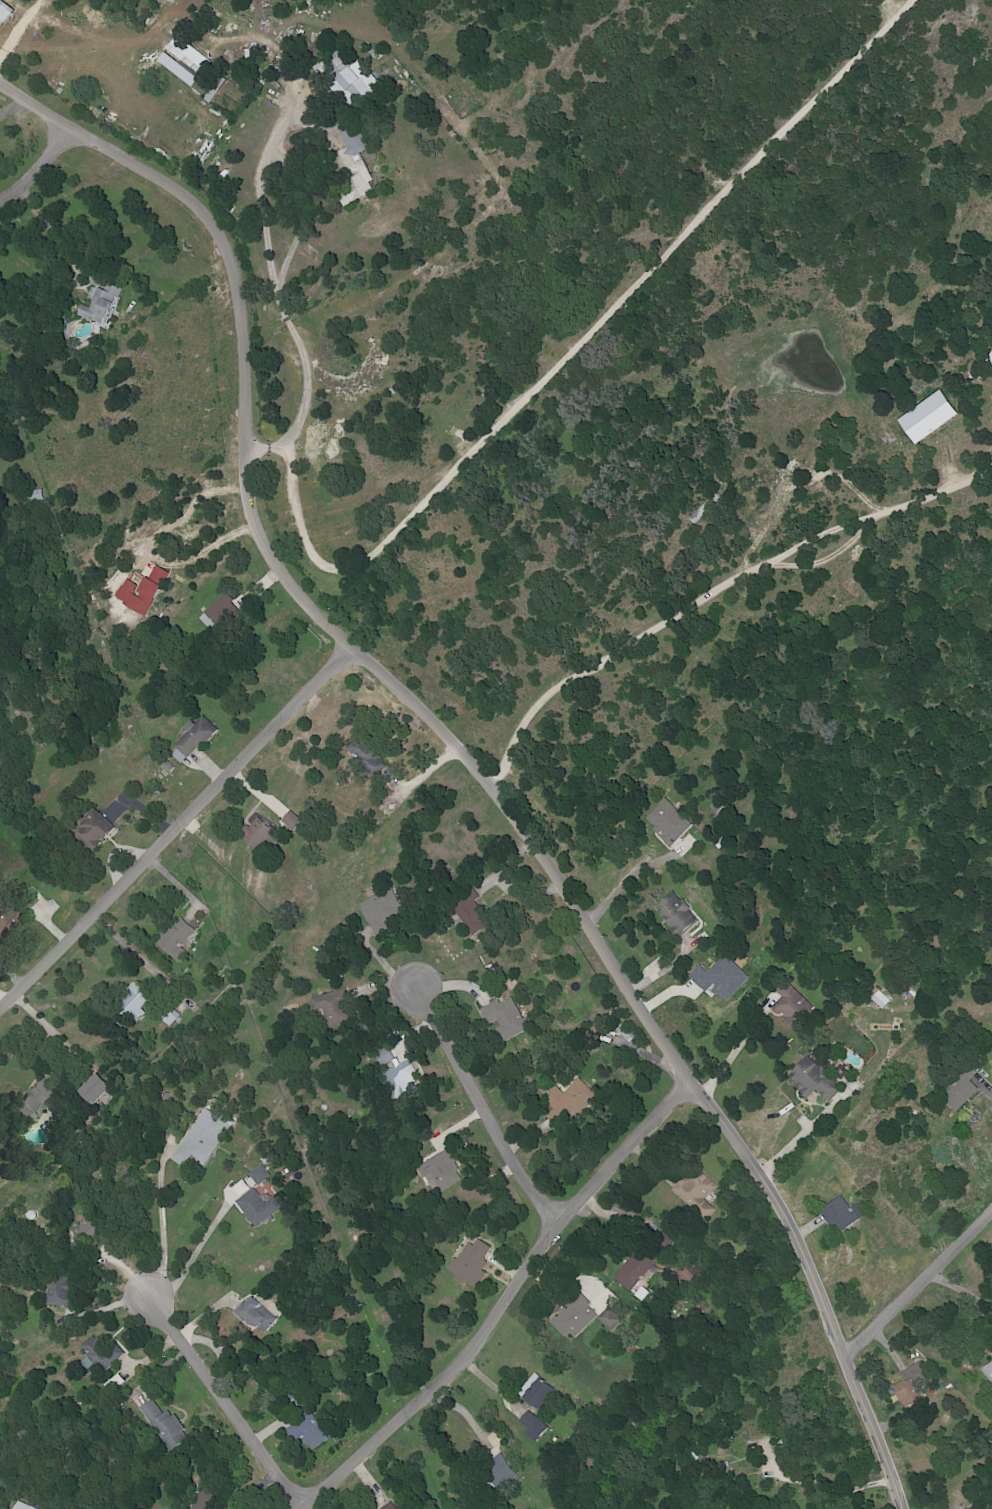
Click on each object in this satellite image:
building: (4, 12)
building: (188, 52)
building: (176, 69)
building: (353, 82)
building: (351, 167)
road: (39, 174)
road: (56, 238)
road: (291, 250)
building: (99, 280)
road: (272, 280)
building: (98, 304)
road: (564, 357)
building: (989, 359)
building: (926, 417)
building: (35, 495)
road: (152, 546)
road: (712, 590)
building: (140, 591)
building: (192, 740)
road: (462, 754)
building: (290, 819)
building: (667, 823)
building: (92, 828)
road: (175, 834)
building: (256, 834)
road: (621, 886)
building: (23, 901)
building: (380, 906)
building: (467, 911)
building: (676, 914)
building: (10, 918)
building: (0, 923)
building: (175, 937)
building: (719, 978)
building: (879, 999)
building: (788, 1000)
building: (129, 1005)
building: (327, 1009)
building: (503, 1017)
building: (170, 1018)
road: (49, 1033)
road: (729, 1056)
building: (396, 1074)
building: (812, 1079)
road: (984, 1087)
building: (92, 1088)
building: (959, 1091)
building: (570, 1098)
building: (30, 1102)
road: (484, 1112)
road: (459, 1125)
road: (797, 1138)
building: (200, 1139)
building: (439, 1170)
road: (469, 1171)
building: (695, 1193)
building: (254, 1203)
building: (840, 1214)
road: (162, 1225)
building: (87, 1232)
road: (195, 1253)
building: (468, 1261)
building: (634, 1269)
building: (685, 1273)
road: (918, 1282)
road: (966, 1294)
building: (62, 1301)
road: (504, 1303)
building: (254, 1315)
building: (573, 1317)
building: (609, 1319)
building: (99, 1353)
building: (987, 1371)
building: (906, 1391)
building: (536, 1393)
road: (228, 1403)
building: (164, 1425)
building: (531, 1425)
building: (308, 1434)
building: (497, 1471)
road: (824, 1486)
building: (20, 1506)
building: (389, 1506)
building: (181, 1508)

